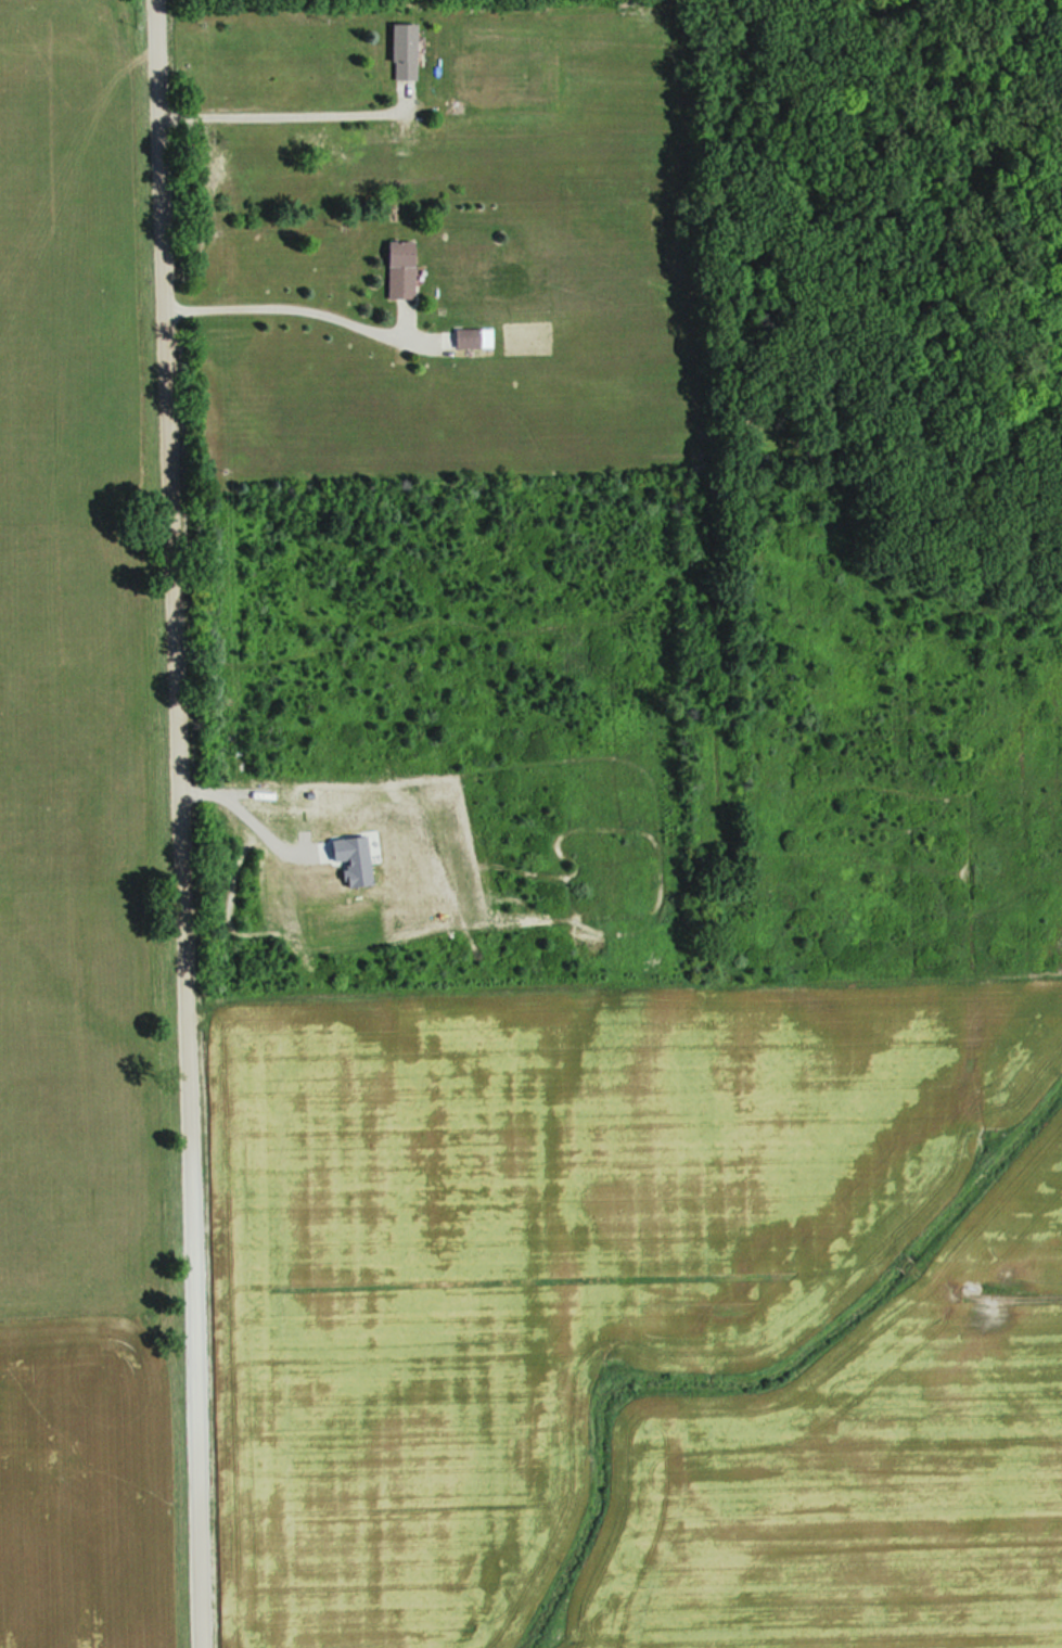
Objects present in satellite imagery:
building: (410, 53)
road: (282, 110)
building: (407, 270)
road: (303, 304)
building: (473, 338)
road: (241, 817)
road: (172, 823)
road: (348, 995)

